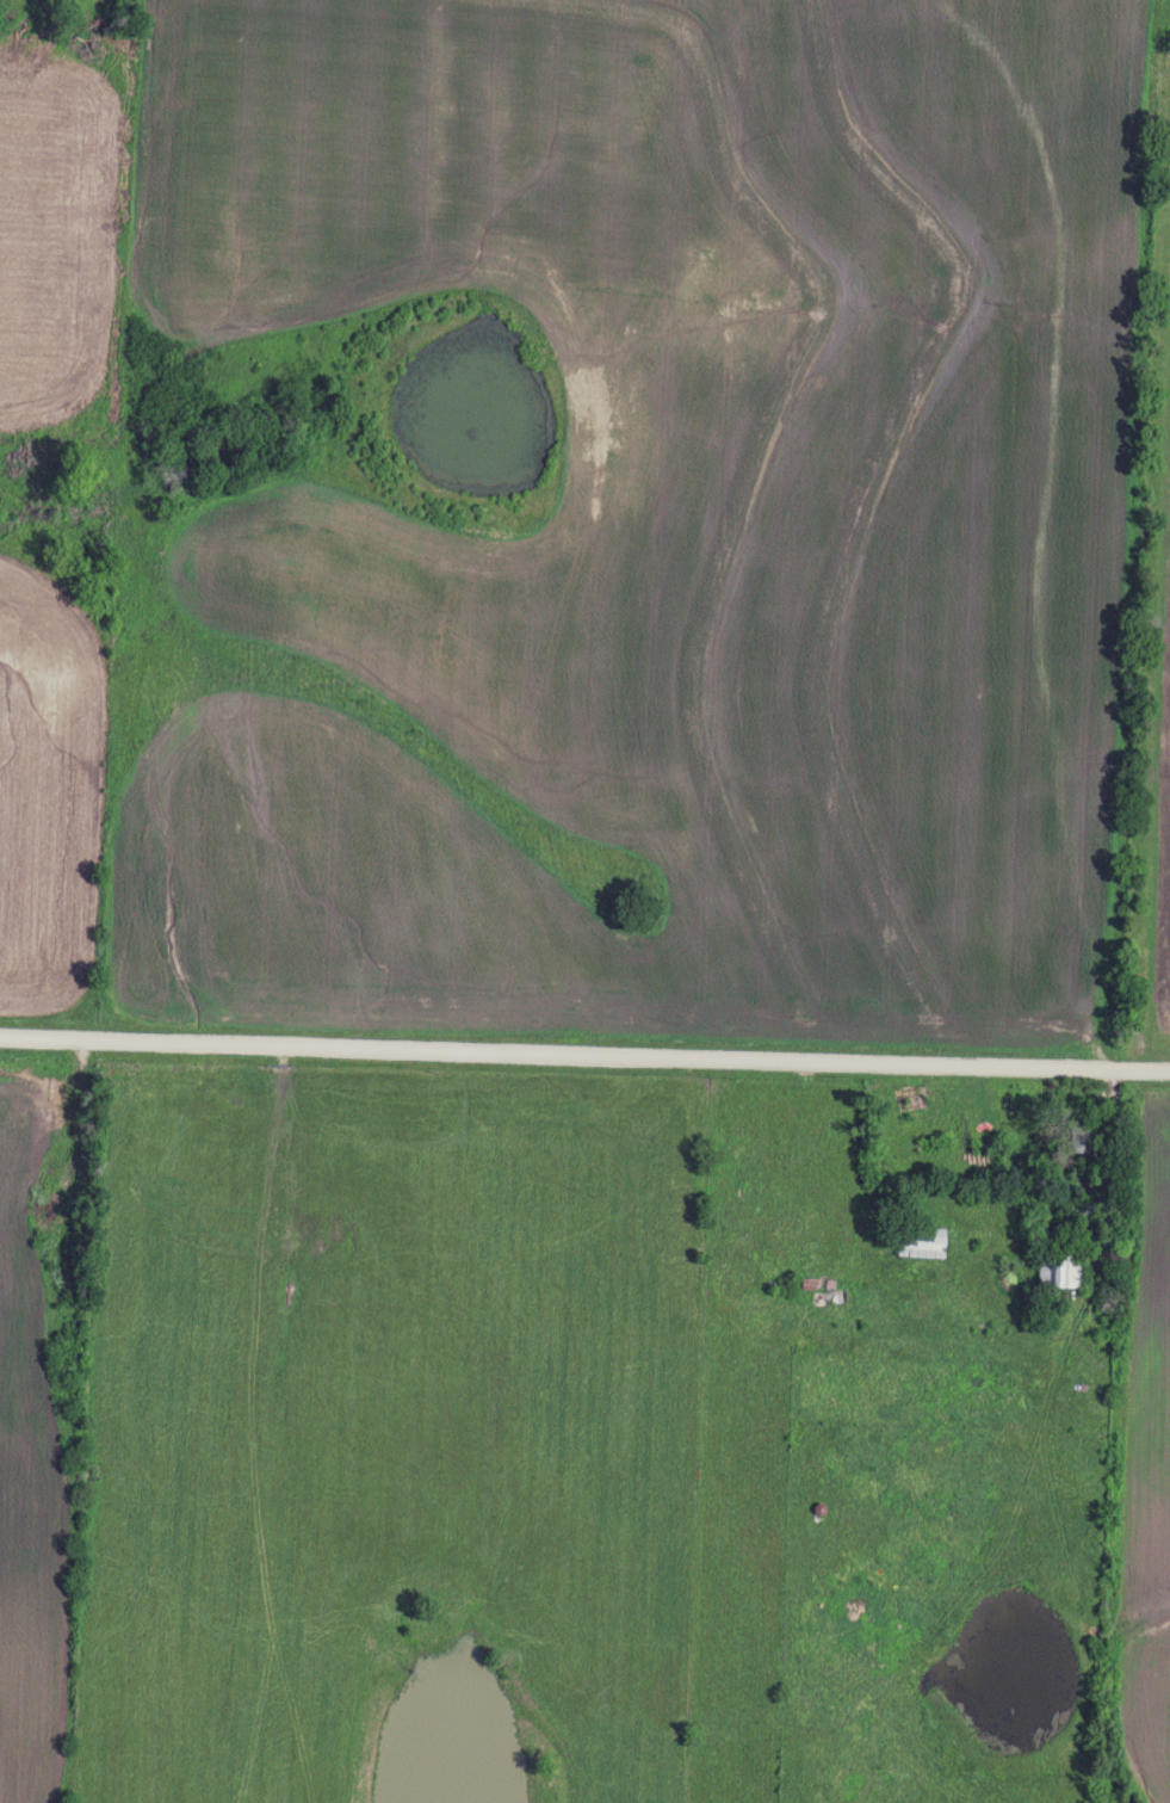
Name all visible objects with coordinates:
road: (584, 1055)
building: (1081, 1137)
building: (920, 1241)
building: (1061, 1267)
building: (1106, 1293)

